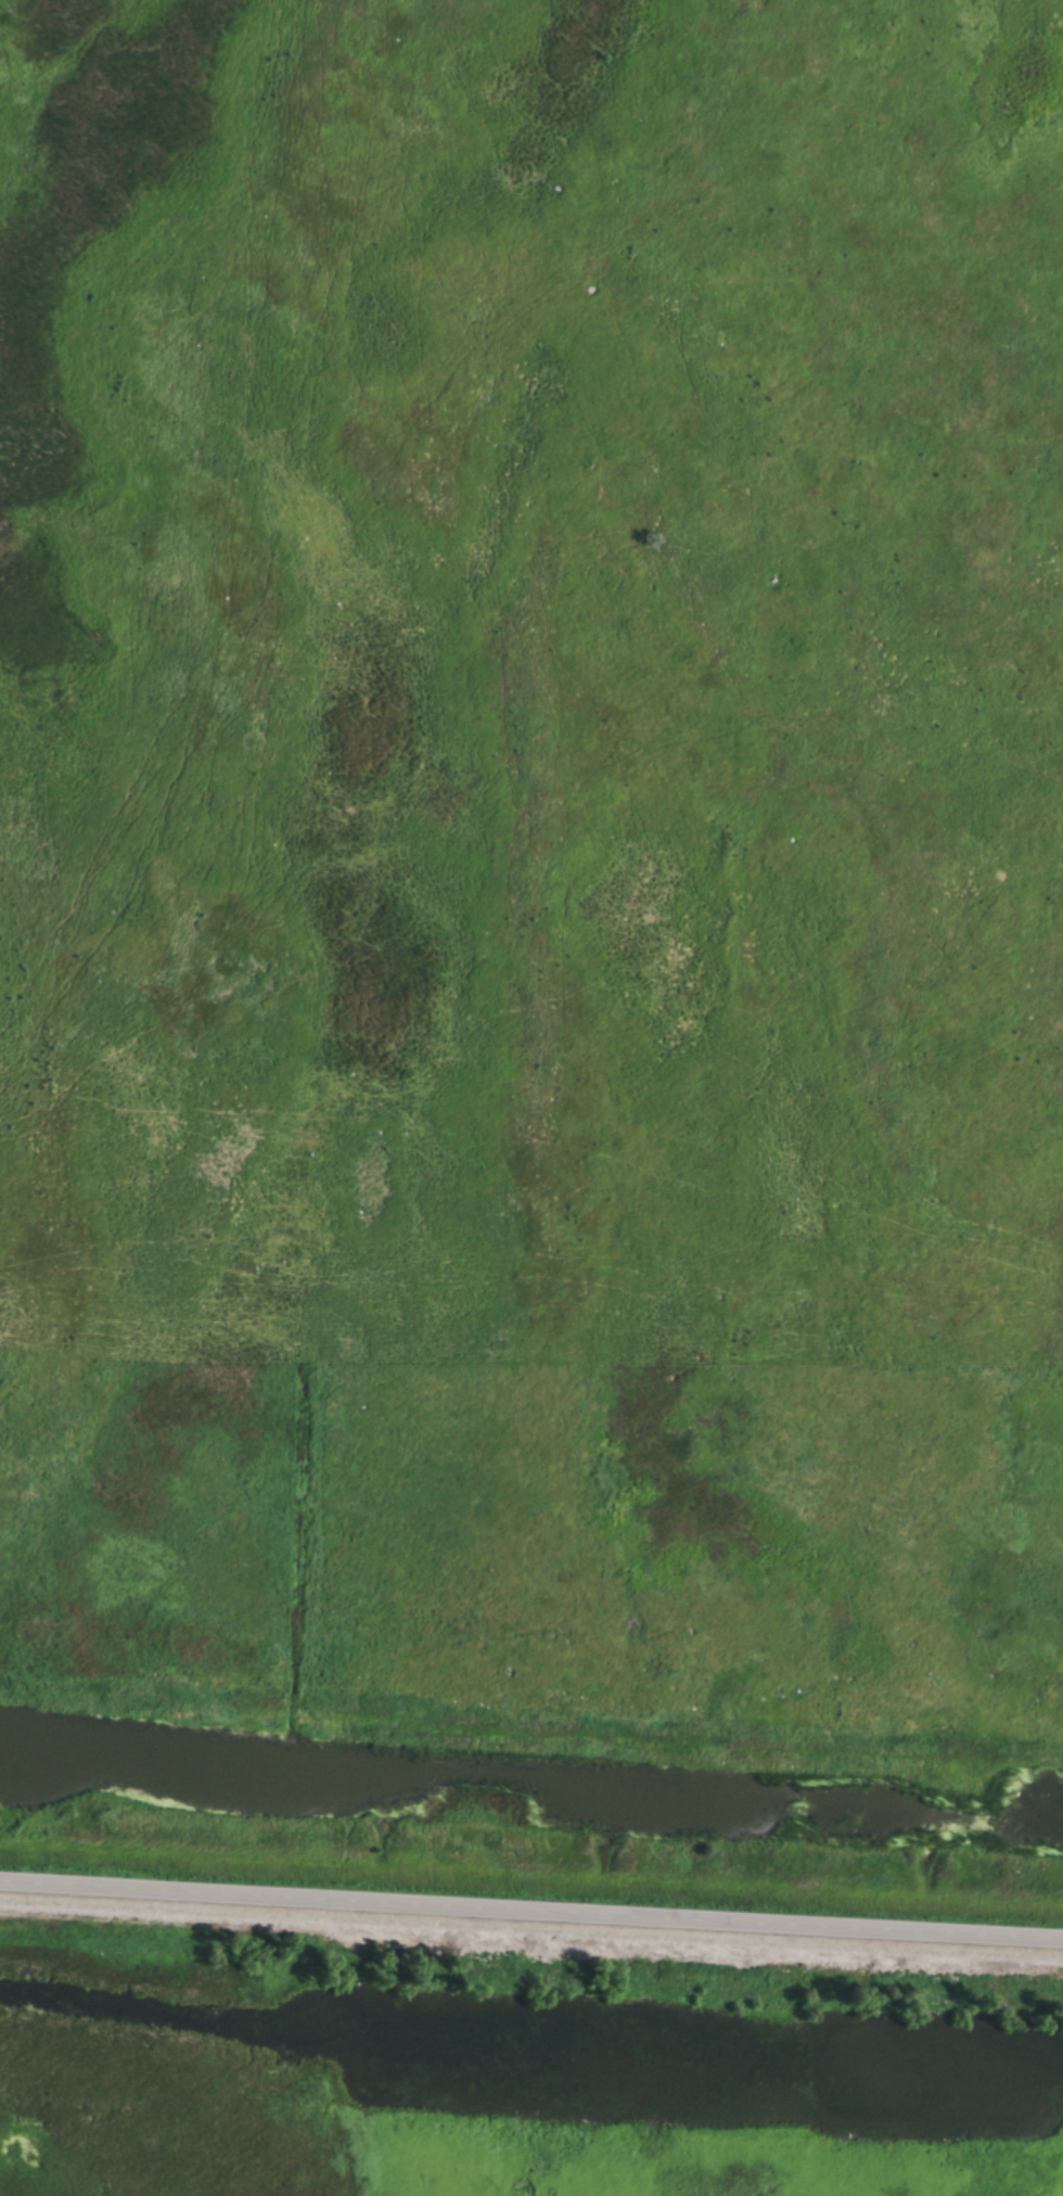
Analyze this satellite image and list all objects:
road: (531, 1910)

